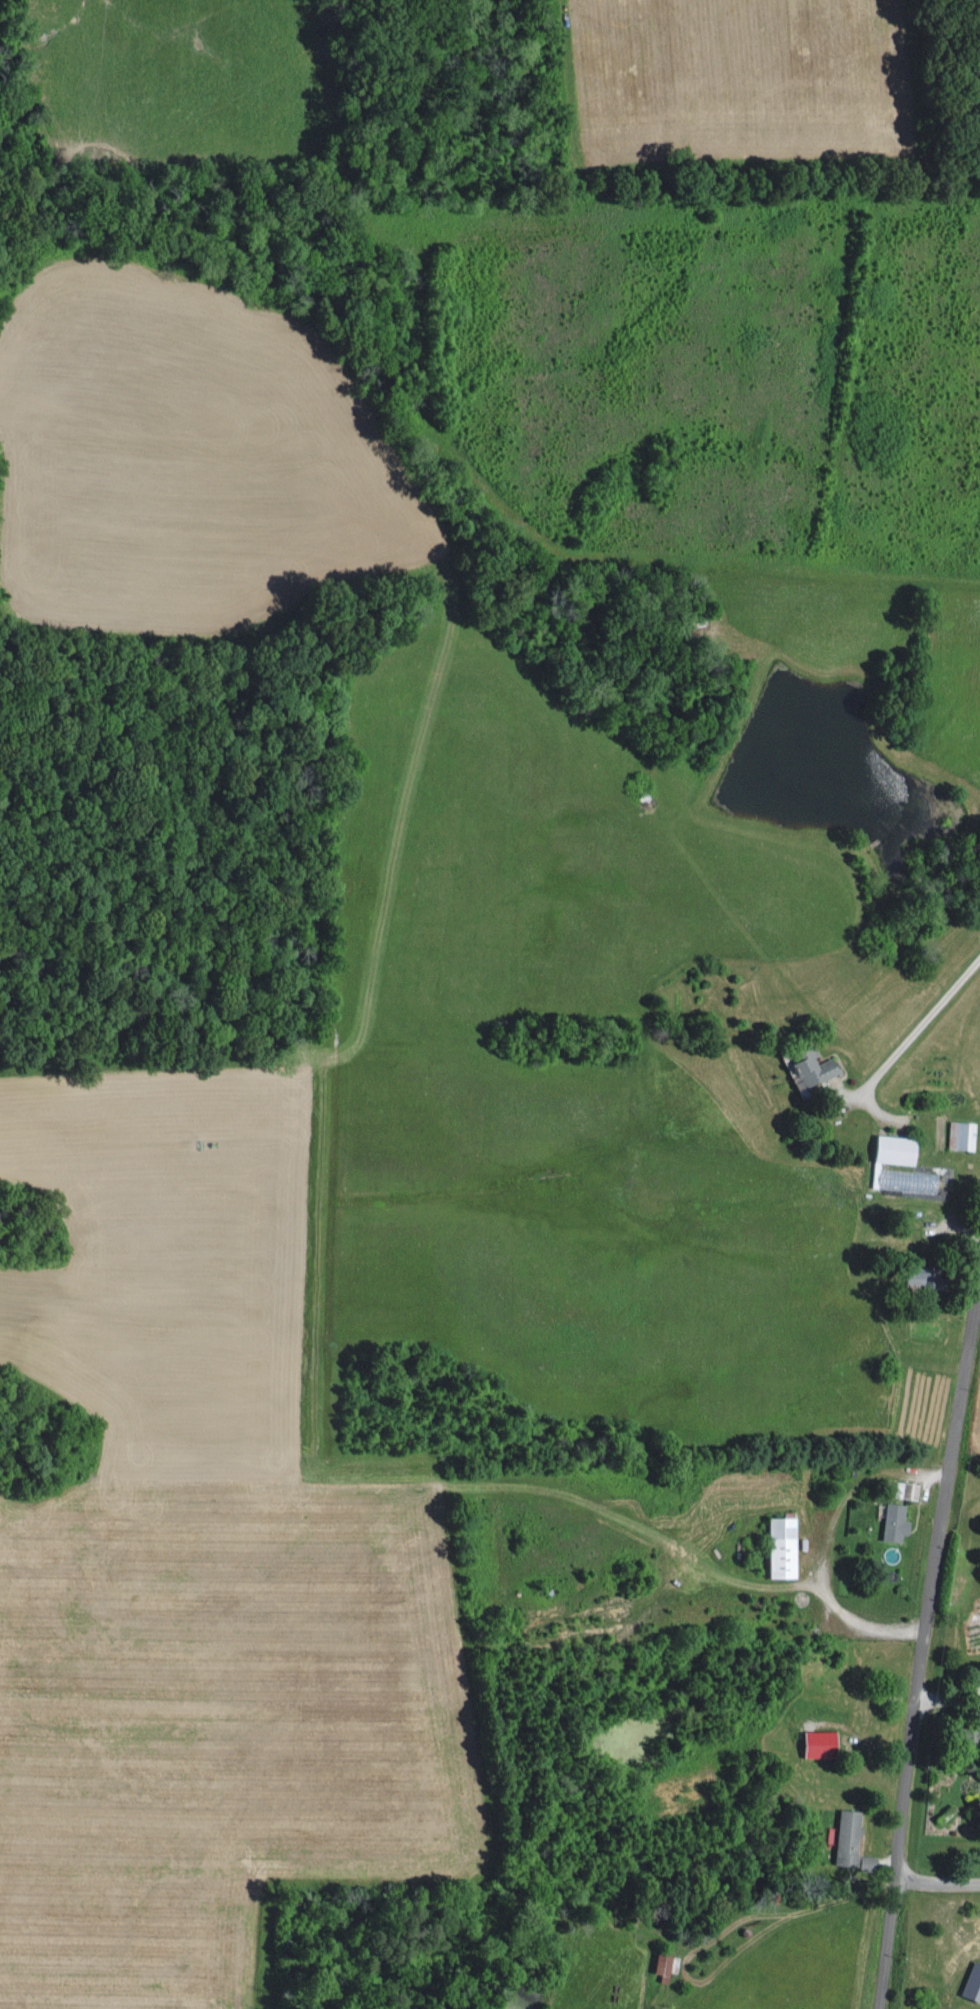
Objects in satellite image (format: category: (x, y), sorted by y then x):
building: (808, 1065)
building: (957, 1133)
building: (902, 1161)
building: (910, 1273)
building: (903, 1488)
building: (890, 1520)
building: (775, 1544)
road: (922, 1639)
building: (962, 1731)
building: (815, 1741)
building: (846, 1839)
road: (937, 1879)
building: (658, 1964)
building: (970, 1981)

